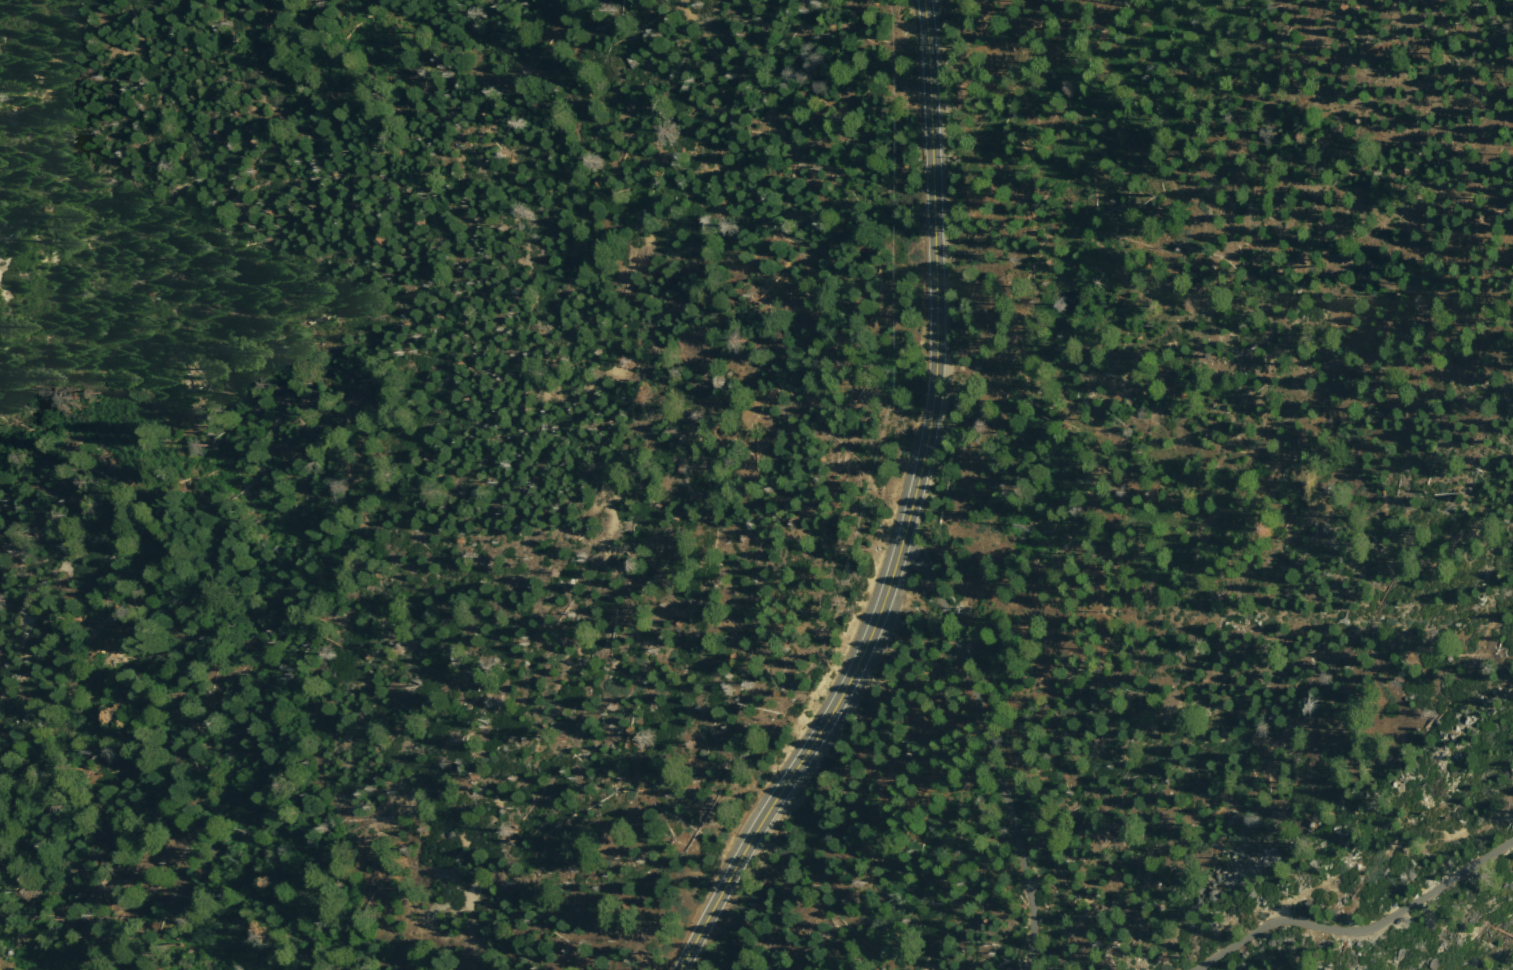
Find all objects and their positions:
road: (908, 513)
road: (988, 746)
road: (1356, 925)

